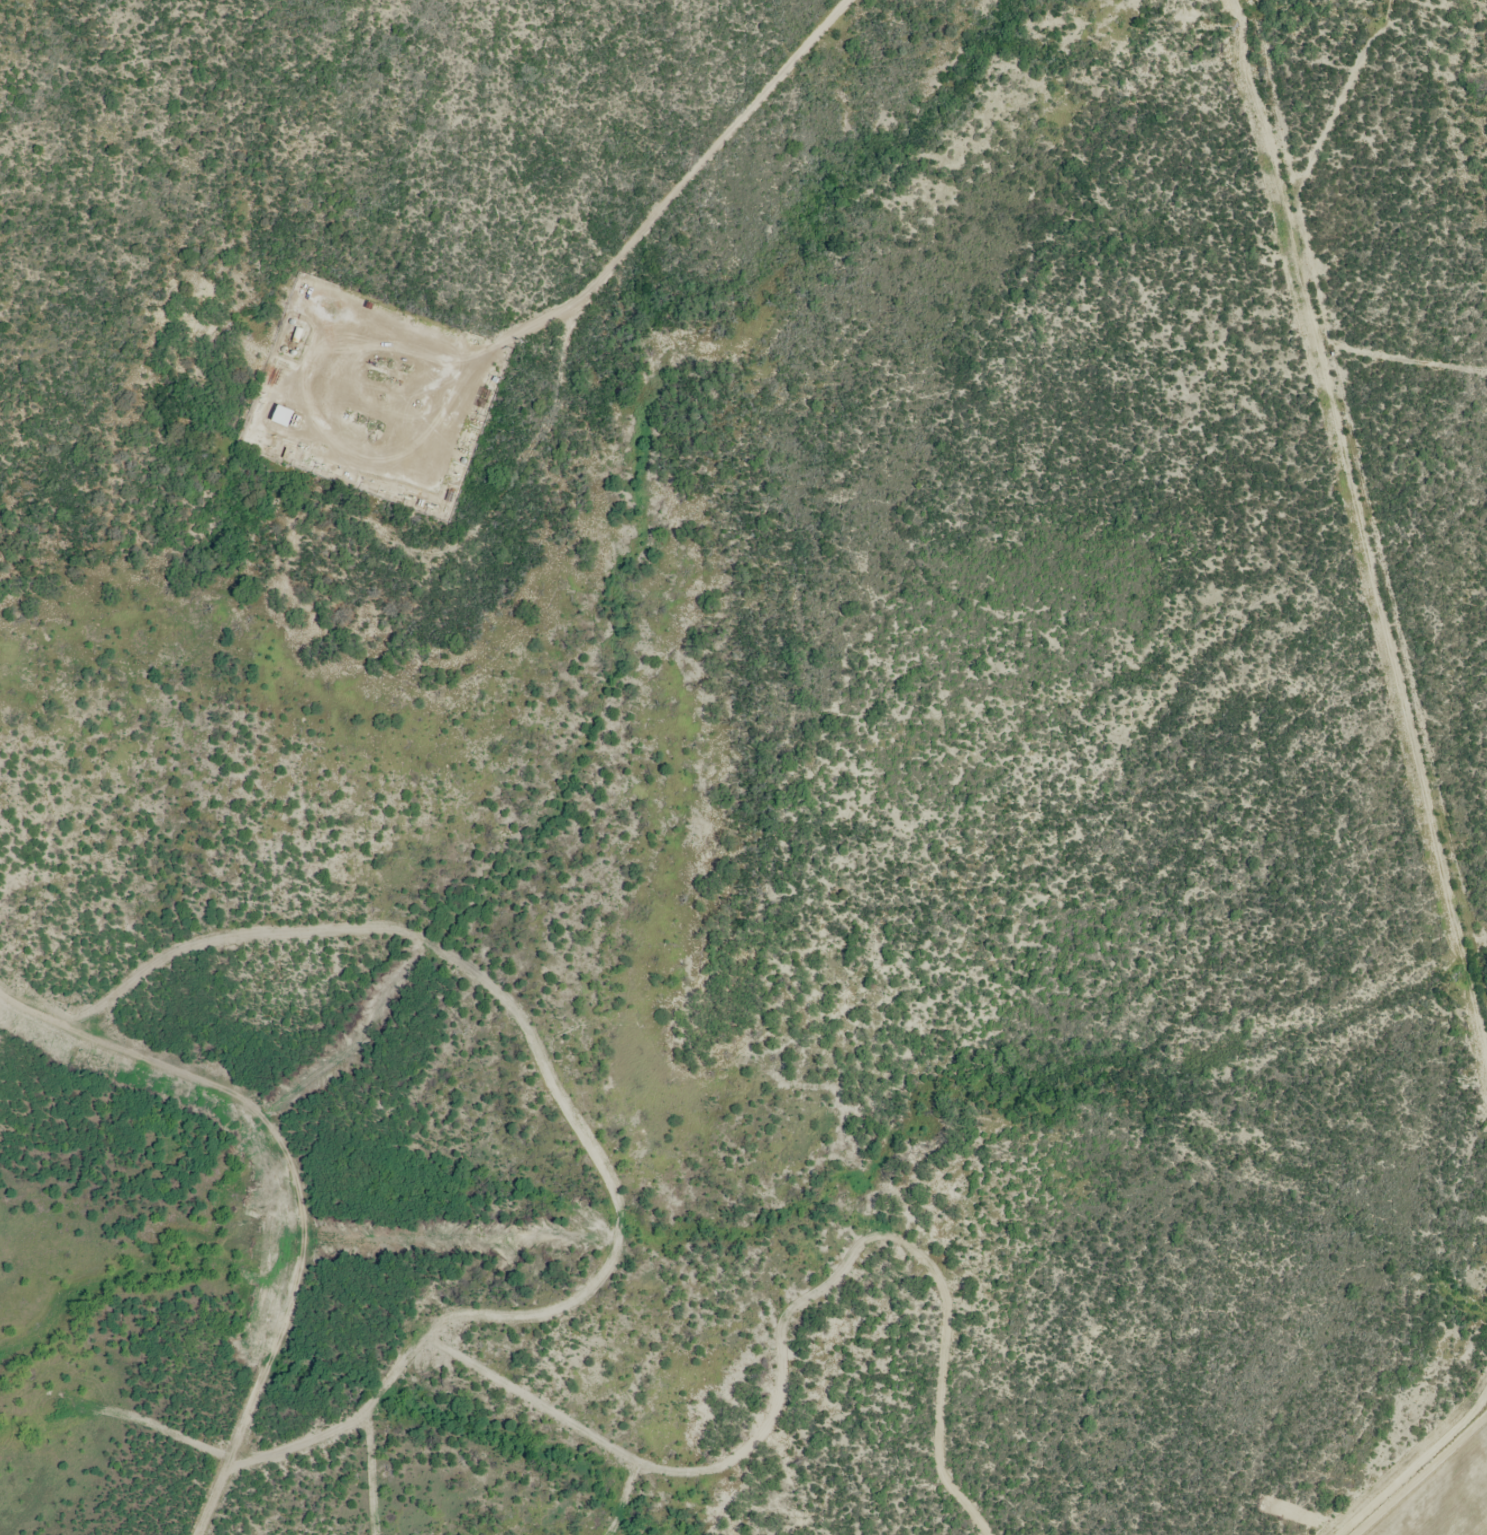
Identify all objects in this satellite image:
building: (321, 305)
road: (544, 323)
building: (285, 415)
road: (334, 1218)
road: (532, 1313)
road: (781, 1327)
road: (244, 1418)

